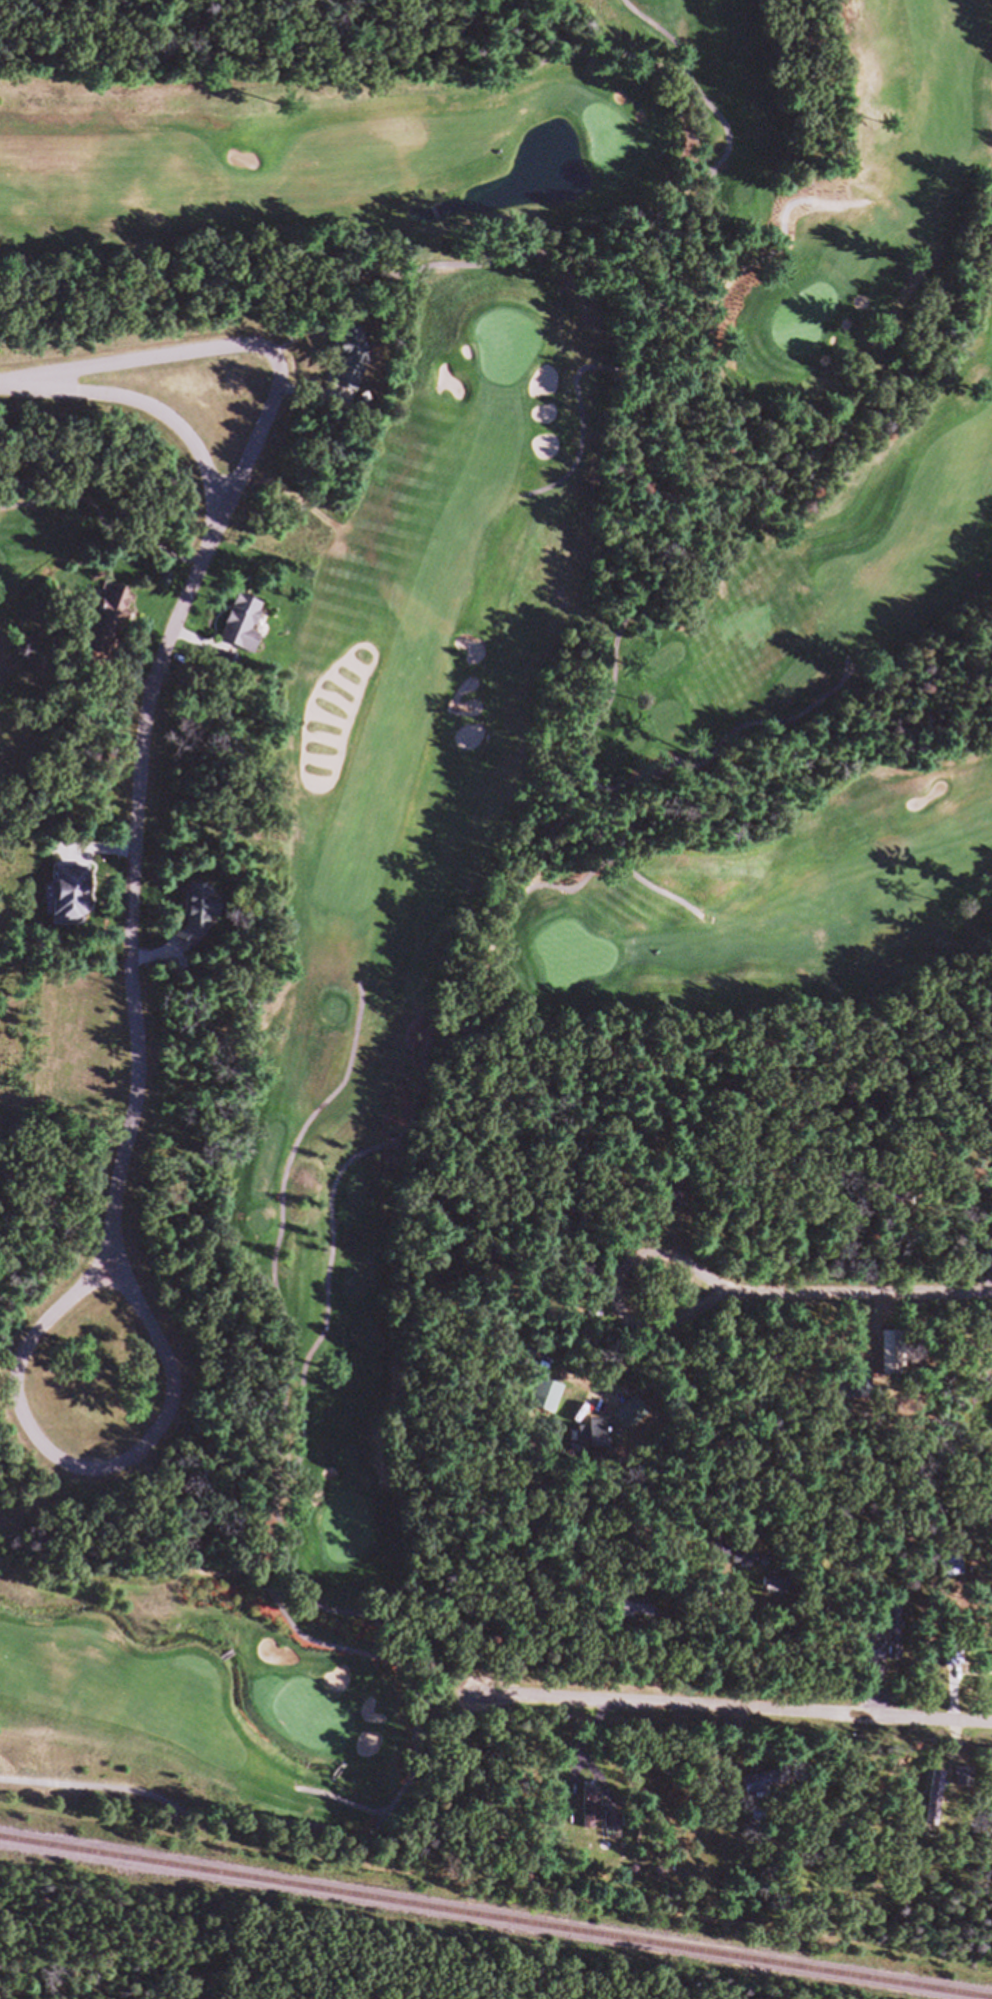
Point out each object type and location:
road: (669, 42)
road: (530, 262)
road: (240, 353)
building: (351, 366)
road: (835, 502)
park: (76, 549)
building: (111, 623)
building: (244, 632)
park: (518, 734)
road: (150, 746)
building: (72, 904)
building: (198, 925)
road: (905, 972)
road: (285, 1239)
road: (866, 1299)
road: (619, 1300)
park: (7, 1338)
road: (14, 1351)
building: (892, 1361)
building: (548, 1404)
building: (600, 1439)
road: (307, 1453)
road: (87, 1475)
building: (720, 1556)
building: (953, 1565)
building: (746, 1566)
building: (629, 1618)
building: (889, 1653)
building: (954, 1664)
road: (740, 1712)
building: (756, 1790)
building: (943, 1791)
building: (591, 1816)
road: (243, 1819)
railway: (476, 1921)

